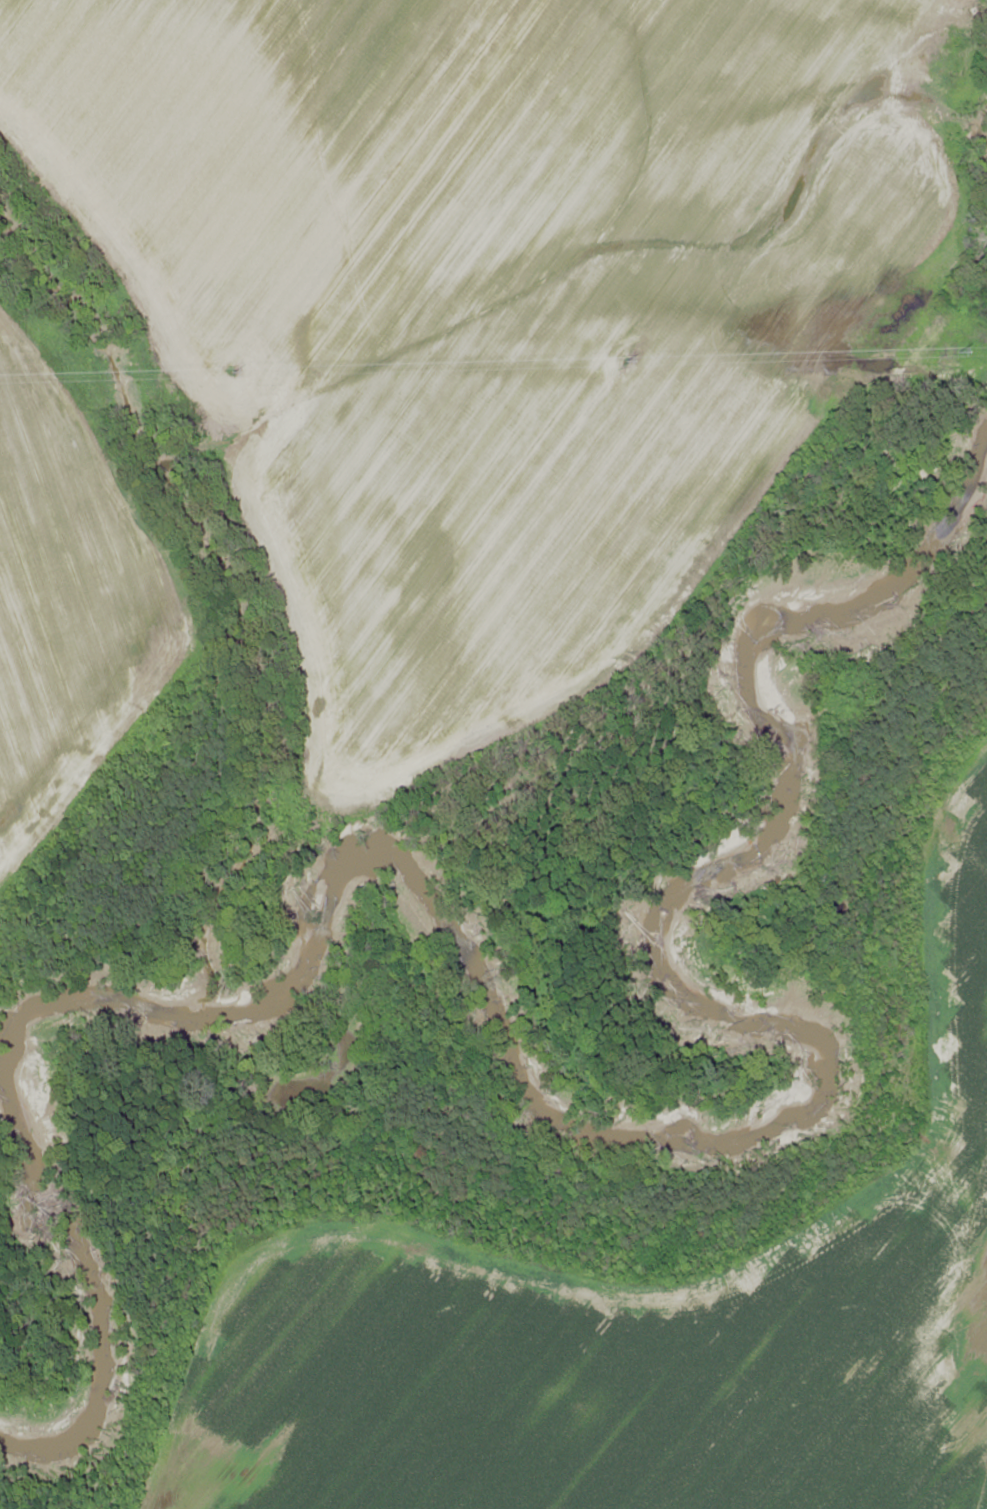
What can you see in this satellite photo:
power tower: (240, 369)
river: (771, 1088)
river: (74, 1291)

